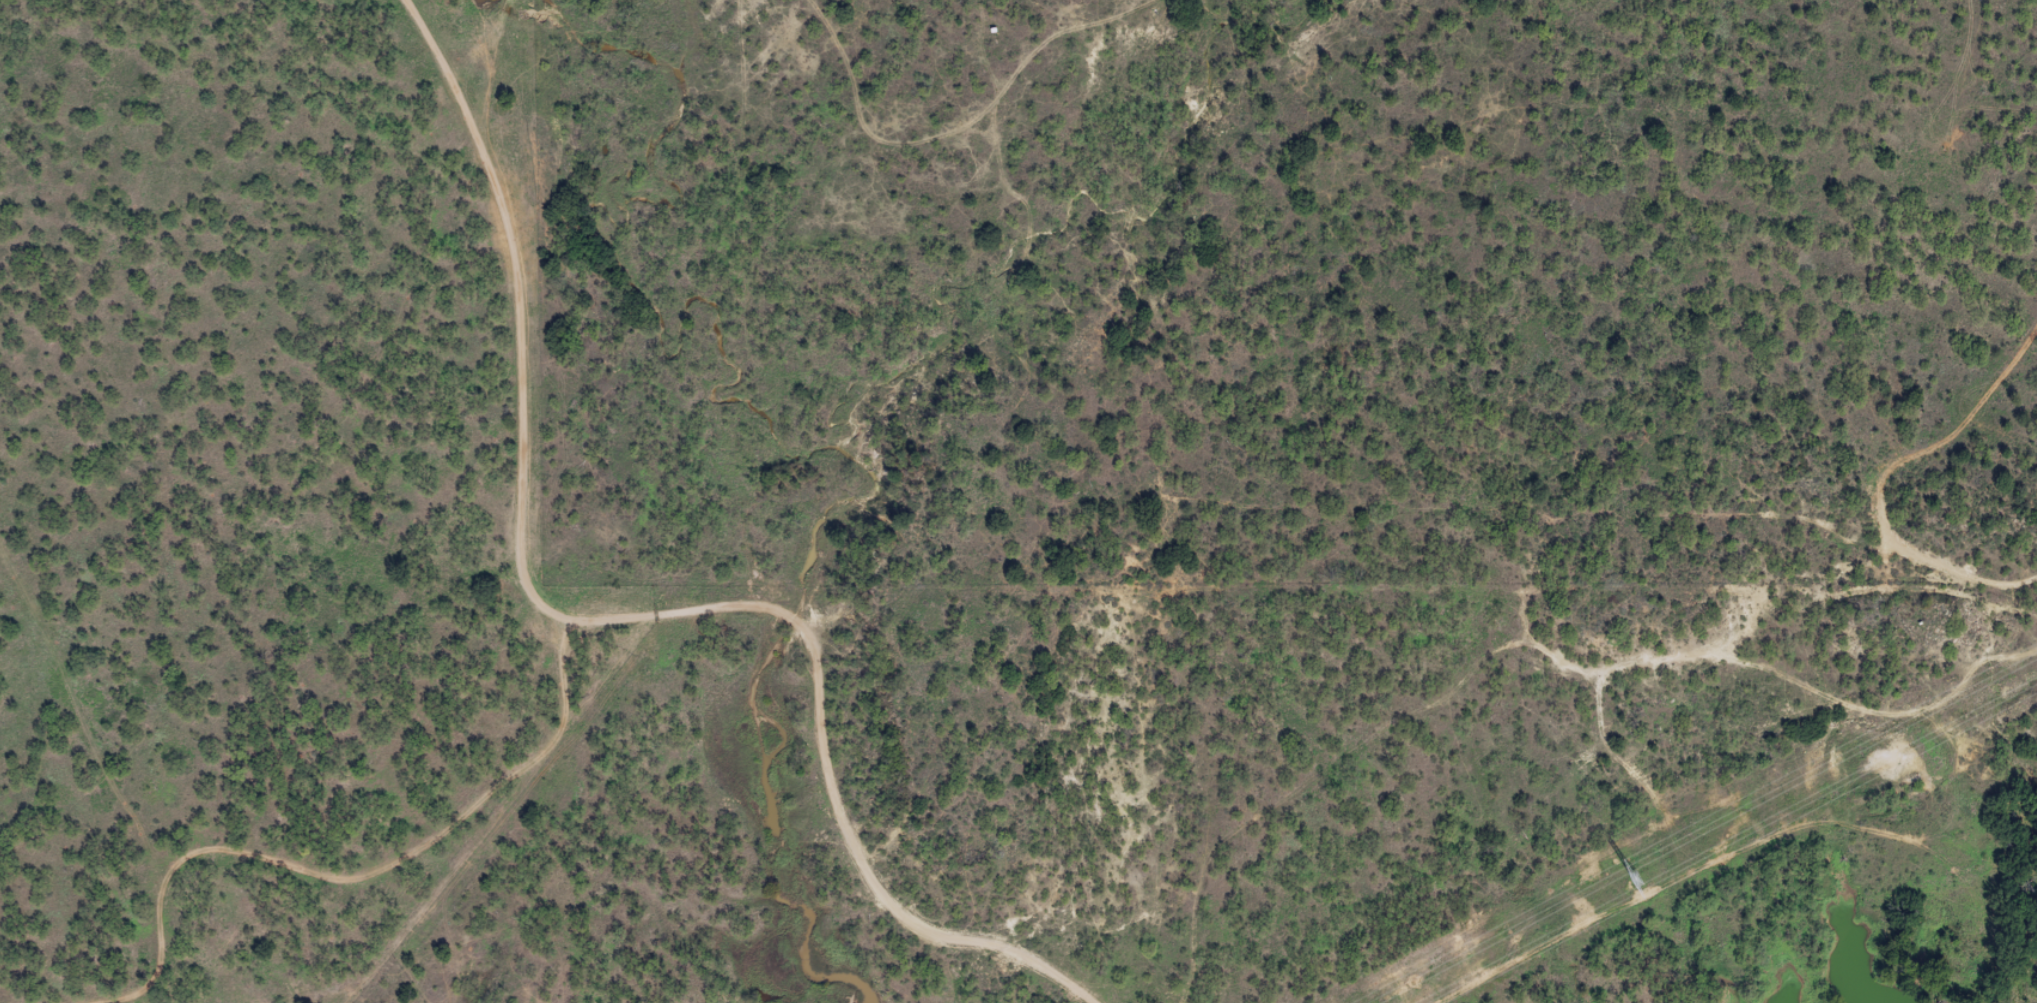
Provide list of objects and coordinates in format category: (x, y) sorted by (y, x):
road: (574, 739)
road: (869, 764)
power tower: (1638, 880)

